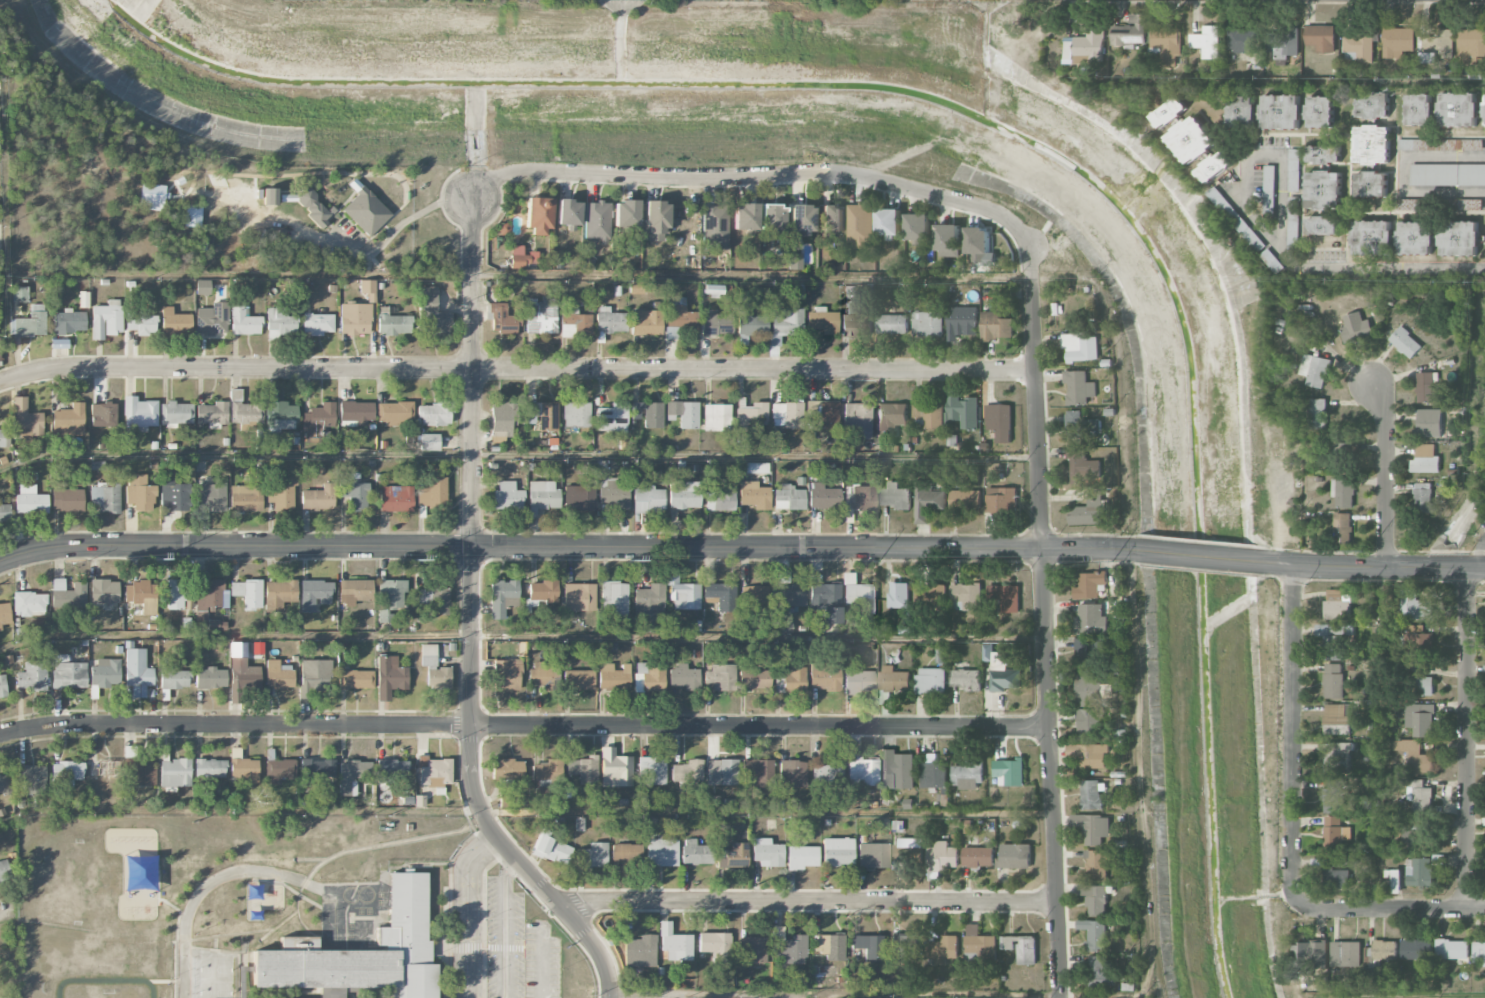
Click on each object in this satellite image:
building: (1129, 31)
building: (1321, 37)
building: (1242, 40)
building: (1207, 41)
building: (1282, 41)
building: (1398, 41)
building: (1167, 44)
building: (1471, 44)
building: (1086, 47)
building: (1360, 48)
building: (1431, 48)
building: (1442, 109)
building: (1280, 111)
building: (1484, 115)
building: (1193, 139)
building: (1372, 143)
building: (1419, 144)
building: (1477, 144)
road: (1257, 153)
building: (1293, 169)
road: (1403, 172)
road: (759, 173)
building: (1447, 174)
building: (1269, 188)
building: (1323, 188)
building: (270, 196)
building: (312, 207)
building: (366, 211)
building: (569, 212)
building: (626, 214)
building: (538, 215)
building: (745, 216)
building: (772, 218)
building: (801, 218)
building: (832, 218)
building: (597, 221)
building: (656, 221)
building: (889, 223)
building: (714, 224)
building: (861, 224)
building: (918, 226)
road: (398, 229)
building: (1373, 237)
building: (1416, 238)
building: (1459, 238)
building: (949, 240)
building: (979, 244)
building: (521, 257)
building: (795, 261)
road: (1379, 266)
building: (203, 287)
building: (636, 287)
building: (368, 289)
building: (19, 294)
building: (432, 314)
building: (541, 315)
building: (355, 318)
building: (678, 318)
building: (106, 319)
building: (212, 319)
building: (244, 320)
building: (503, 320)
building: (822, 320)
building: (69, 321)
building: (856, 321)
building: (29, 322)
building: (175, 322)
building: (574, 322)
building: (609, 322)
building: (646, 322)
building: (786, 322)
building: (961, 322)
building: (280, 323)
building: (393, 323)
building: (927, 323)
building: (141, 324)
building: (317, 324)
building: (715, 324)
building: (892, 324)
building: (995, 325)
building: (749, 327)
building: (1355, 327)
building: (1405, 342)
building: (1081, 346)
road: (474, 368)
road: (515, 369)
building: (1314, 370)
building: (1078, 387)
building: (1429, 387)
building: (244, 409)
building: (963, 409)
building: (356, 412)
building: (824, 412)
building: (394, 413)
building: (1317, 413)
building: (103, 414)
building: (139, 414)
building: (175, 414)
building: (212, 414)
building: (278, 414)
building: (434, 414)
building: (576, 414)
building: (648, 414)
building: (683, 414)
building: (928, 414)
building: (542, 415)
building: (787, 415)
building: (750, 416)
building: (717, 417)
building: (891, 417)
building: (502, 418)
building: (26, 419)
building: (318, 419)
building: (611, 419)
building: (69, 420)
building: (1000, 421)
building: (1429, 422)
building: (1081, 425)
building: (2, 437)
building: (429, 442)
building: (1340, 457)
building: (1425, 459)
building: (1083, 466)
road: (1383, 474)
building: (281, 491)
building: (1342, 491)
building: (354, 492)
building: (432, 492)
building: (139, 493)
building: (174, 494)
building: (613, 494)
building: (684, 494)
building: (754, 495)
building: (211, 496)
building: (507, 496)
building: (542, 496)
building: (823, 496)
building: (895, 496)
building: (105, 497)
building: (1423, 497)
building: (245, 498)
building: (318, 498)
building: (395, 498)
building: (579, 498)
building: (789, 498)
building: (720, 499)
building: (861, 499)
building: (965, 499)
building: (1002, 499)
building: (30, 500)
building: (67, 500)
building: (648, 500)
building: (928, 503)
building: (1090, 509)
building: (4, 512)
building: (1342, 526)
road: (235, 546)
road: (809, 548)
power tower: (1368, 551)
road: (1201, 555)
road: (1483, 555)
power tower: (158, 559)
power tower: (415, 560)
power tower: (631, 561)
power tower: (877, 561)
power tower: (1112, 561)
road: (1371, 567)
building: (1090, 584)
building: (104, 591)
building: (354, 591)
building: (542, 591)
building: (247, 593)
building: (391, 593)
building: (682, 593)
building: (173, 594)
building: (209, 594)
building: (279, 594)
building: (898, 594)
building: (929, 594)
building: (68, 595)
building: (314, 595)
building: (141, 596)
building: (721, 596)
building: (858, 596)
building: (965, 596)
building: (502, 597)
building: (578, 597)
building: (790, 597)
building: (1005, 597)
building: (434, 598)
building: (753, 598)
building: (825, 601)
building: (29, 604)
building: (1336, 604)
building: (648, 606)
building: (1415, 606)
building: (4, 614)
building: (384, 615)
building: (201, 619)
building: (1092, 620)
road: (1043, 621)
building: (216, 625)
road: (758, 636)
building: (1333, 641)
building: (1419, 644)
building: (1094, 651)
building: (242, 668)
building: (434, 668)
building: (1000, 670)
building: (137, 672)
building: (68, 673)
building: (105, 673)
building: (391, 673)
building: (315, 674)
building: (507, 674)
building: (542, 674)
building: (278, 675)
building: (32, 676)
building: (824, 676)
building: (613, 677)
building: (684, 677)
building: (210, 678)
building: (649, 678)
building: (719, 678)
building: (355, 679)
building: (754, 679)
building: (894, 679)
building: (966, 679)
building: (578, 680)
building: (792, 680)
building: (930, 680)
building: (1332, 680)
building: (858, 682)
building: (1423, 685)
building: (2, 687)
building: (1090, 689)
building: (1337, 718)
building: (1419, 719)
building: (1091, 722)
road: (524, 724)
road: (1291, 736)
road: (1466, 739)
building: (1095, 755)
building: (1414, 756)
building: (1337, 757)
building: (278, 766)
building: (104, 768)
building: (209, 768)
building: (317, 769)
building: (392, 769)
building: (507, 769)
building: (583, 769)
building: (615, 769)
building: (897, 769)
building: (242, 770)
building: (547, 770)
building: (861, 770)
building: (140, 771)
building: (651, 771)
building: (828, 771)
building: (1009, 771)
building: (434, 772)
building: (721, 772)
building: (66, 773)
building: (758, 773)
building: (792, 773)
building: (175, 774)
building: (687, 774)
building: (932, 775)
building: (351, 776)
building: (966, 776)
building: (32, 778)
building: (5, 785)
building: (1092, 794)
road: (476, 795)
building: (1419, 795)
building: (1333, 796)
road: (525, 810)
building: (1095, 828)
building: (1335, 833)
building: (1413, 833)
building: (551, 847)
building: (908, 849)
building: (837, 851)
building: (661, 852)
building: (766, 852)
building: (696, 853)
building: (592, 855)
building: (873, 855)
building: (626, 856)
building: (733, 856)
building: (942, 856)
building: (977, 856)
building: (1014, 856)
building: (802, 857)
building: (1097, 865)
building: (4, 871)
building: (1419, 871)
building: (1333, 873)
building: (1096, 899)
road: (808, 902)
road: (462, 910)
road: (1391, 910)
road: (8, 911)
road: (502, 927)
building: (1095, 933)
building: (304, 934)
building: (675, 943)
building: (979, 944)
building: (830, 946)
building: (869, 946)
building: (789, 947)
building: (904, 947)
building: (1021, 947)
building: (716, 948)
building: (943, 948)
building: (1416, 948)
building: (1451, 948)
building: (751, 949)
building: (1385, 949)
building: (640, 951)
building: (1478, 951)
building: (1311, 953)
building: (1346, 953)
road: (542, 962)
building: (1102, 971)
road: (728, 997)

